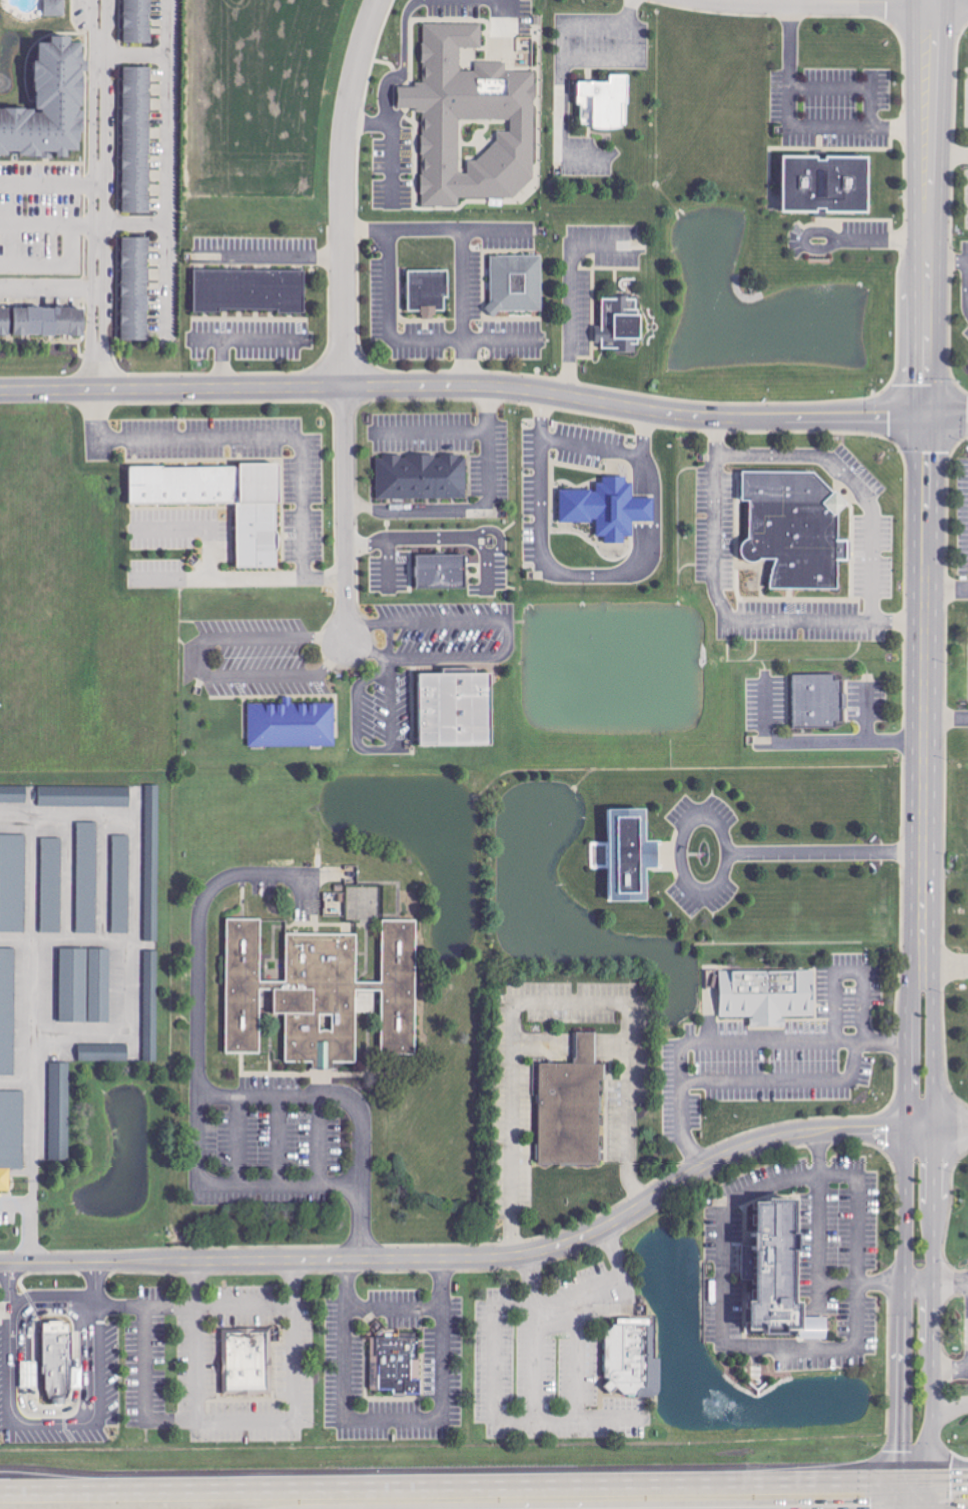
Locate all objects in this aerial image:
road: (776, 1)
road: (931, 1)
road: (932, 1)
road: (851, 3)
building: (55, 8)
road: (620, 12)
building: (139, 21)
road: (407, 36)
road: (552, 63)
building: (606, 102)
building: (45, 104)
building: (472, 121)
road: (369, 123)
road: (800, 124)
road: (391, 137)
building: (137, 140)
road: (949, 153)
building: (828, 184)
road: (98, 195)
road: (930, 210)
road: (438, 229)
road: (881, 237)
road: (967, 274)
building: (517, 283)
building: (136, 289)
road: (572, 289)
road: (48, 291)
building: (250, 291)
building: (429, 291)
road: (466, 308)
road: (345, 317)
building: (5, 321)
building: (50, 322)
building: (621, 324)
road: (414, 339)
road: (465, 387)
road: (489, 414)
traffic signals: (928, 417)
road: (948, 417)
road: (262, 443)
road: (592, 446)
road: (646, 476)
building: (422, 477)
road: (850, 488)
road: (486, 491)
building: (223, 502)
road: (544, 504)
building: (608, 509)
road: (648, 509)
building: (797, 528)
road: (388, 546)
building: (441, 571)
road: (622, 574)
road: (946, 601)
road: (723, 618)
road: (496, 626)
road: (367, 654)
road: (924, 668)
building: (819, 702)
building: (457, 709)
road: (946, 716)
building: (292, 725)
road: (842, 747)
building: (83, 796)
road: (728, 857)
building: (153, 863)
building: (88, 878)
building: (13, 883)
building: (122, 884)
building: (52, 885)
road: (951, 977)
building: (86, 986)
building: (315, 991)
building: (768, 996)
building: (152, 1006)
building: (8, 1011)
road: (130, 1019)
road: (804, 1047)
road: (853, 1048)
building: (104, 1053)
road: (623, 1055)
road: (781, 1082)
road: (214, 1095)
building: (572, 1108)
building: (60, 1112)
road: (509, 1129)
road: (937, 1135)
building: (11, 1136)
road: (822, 1159)
road: (906, 1163)
road: (236, 1192)
road: (935, 1214)
road: (728, 1239)
road: (466, 1259)
road: (821, 1267)
road: (289, 1284)
building: (785, 1285)
road: (576, 1287)
road: (951, 1288)
road: (841, 1291)
road: (56, 1305)
road: (192, 1340)
building: (630, 1357)
building: (244, 1361)
building: (394, 1361)
building: (54, 1364)
building: (30, 1374)
road: (950, 1375)
road: (292, 1394)
road: (950, 1405)
road: (53, 1422)
traffic signals: (898, 1451)
road: (898, 1458)
road: (949, 1476)
traffic signals: (954, 1476)
road: (914, 1478)
road: (449, 1485)

